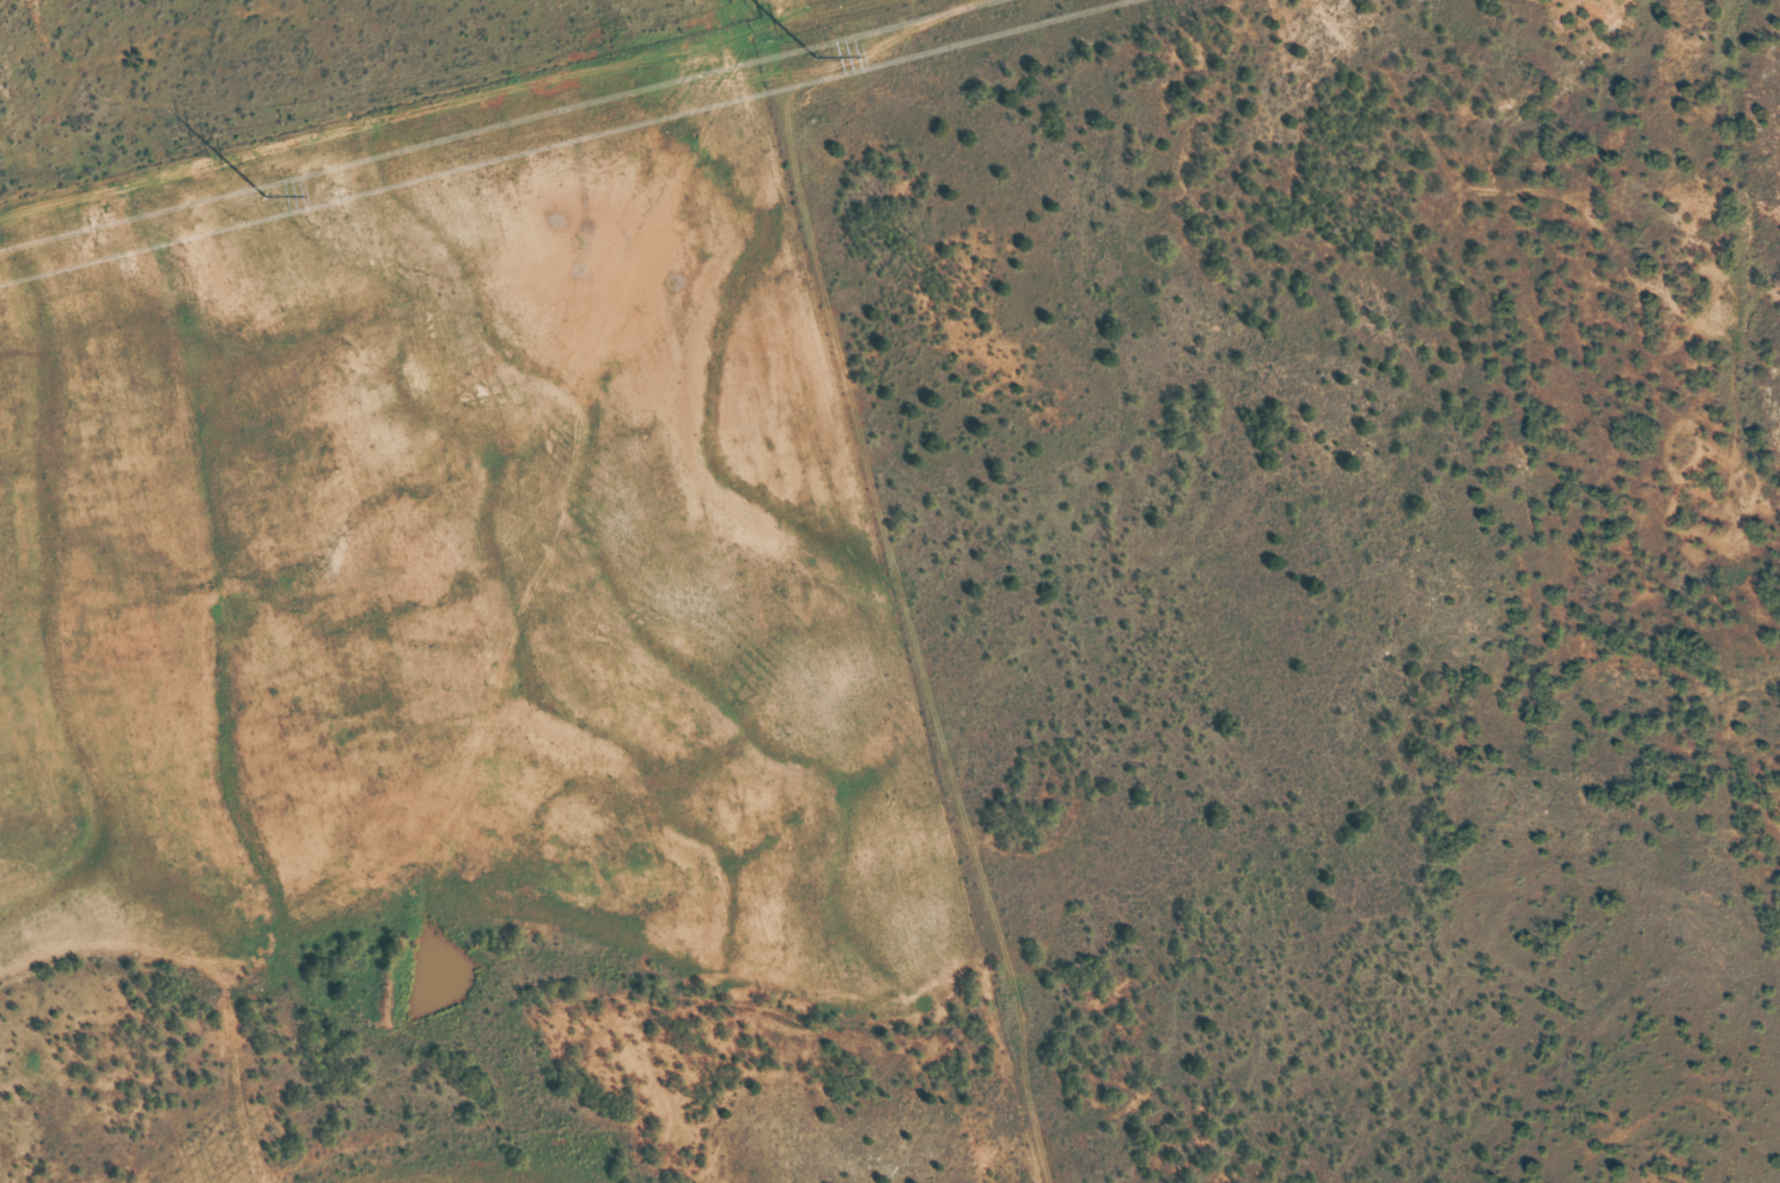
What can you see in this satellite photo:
power tower: (815, 57)
power tower: (264, 196)

